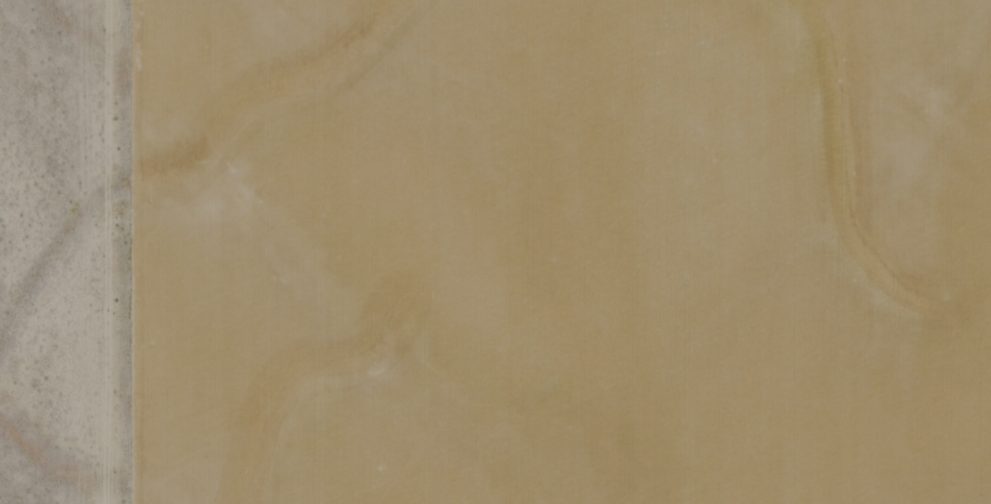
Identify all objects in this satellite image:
crop: (495, 252)

